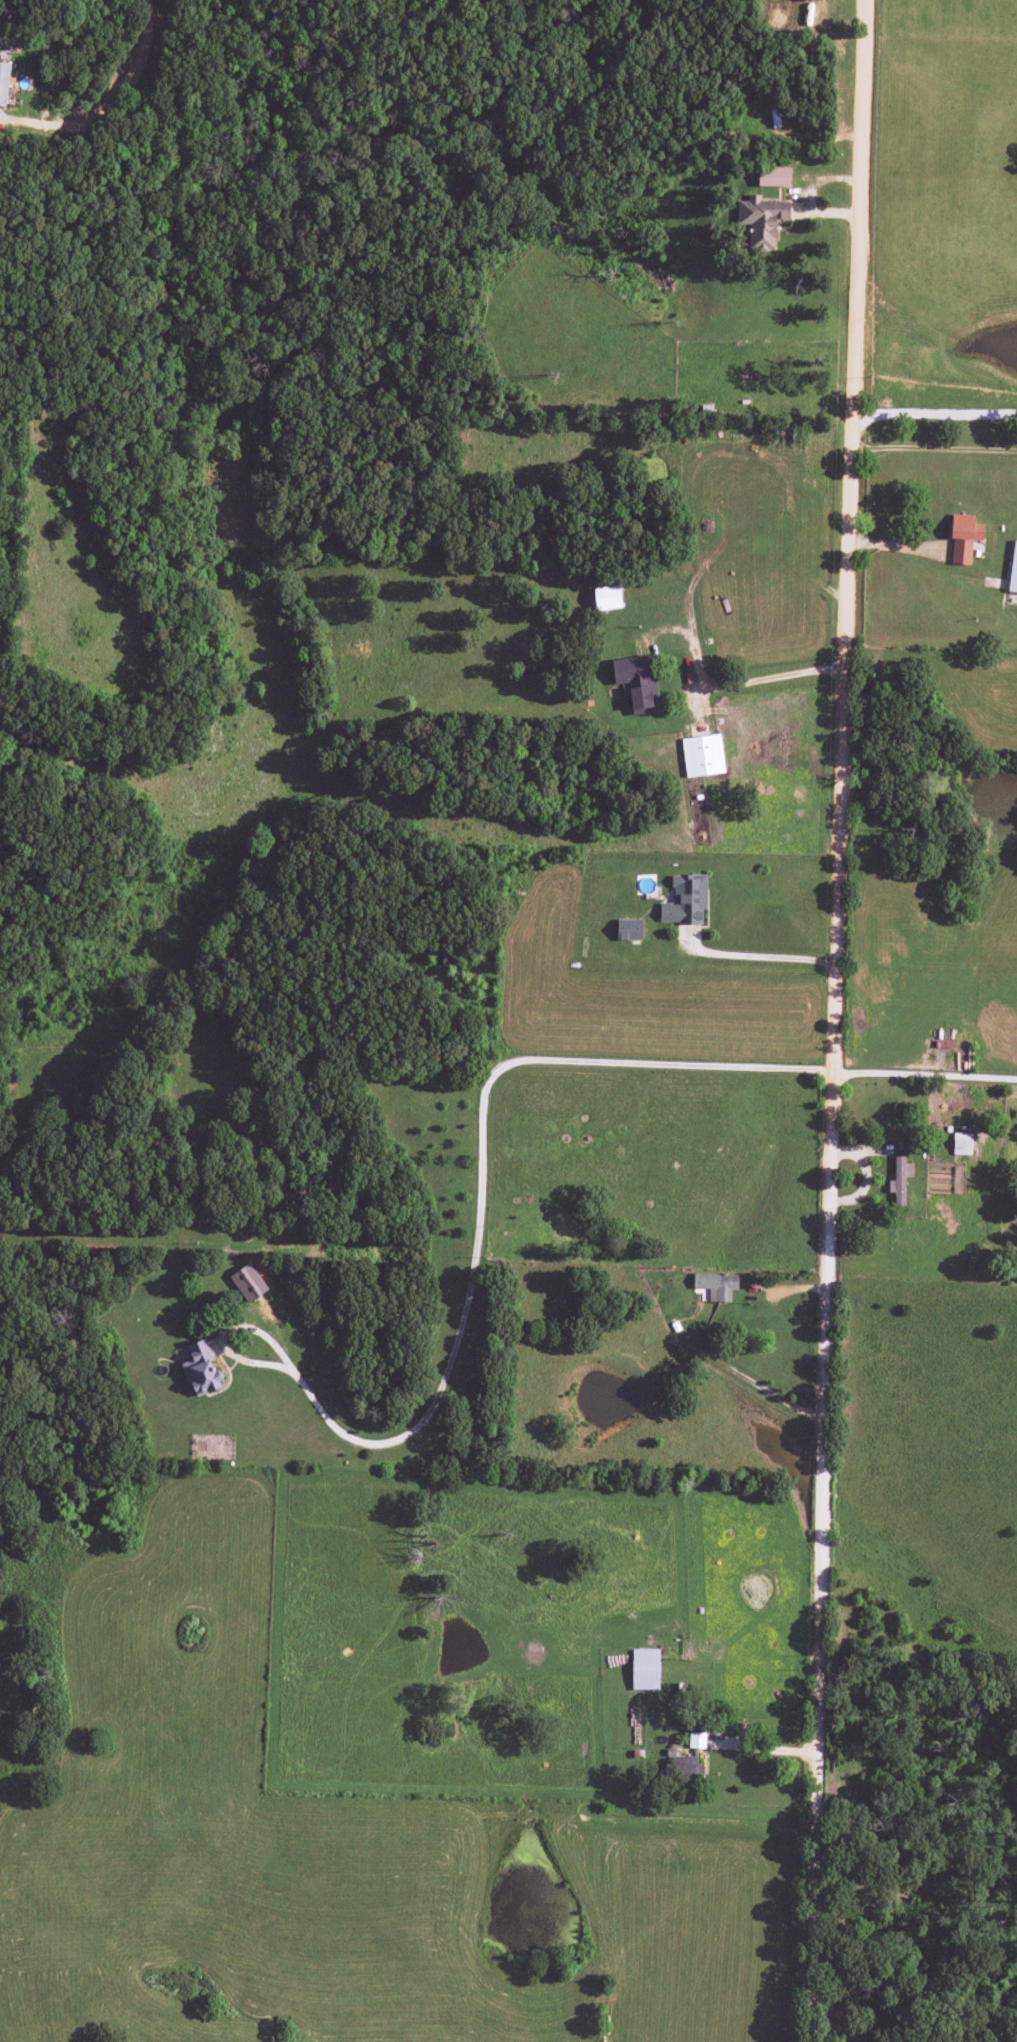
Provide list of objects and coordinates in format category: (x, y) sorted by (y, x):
building: (810, 8)
building: (4, 82)
road: (111, 102)
building: (773, 176)
building: (761, 220)
building: (963, 537)
building: (1013, 569)
building: (607, 598)
road: (775, 676)
building: (637, 682)
building: (702, 755)
building: (685, 900)
building: (628, 929)
road: (769, 956)
road: (832, 1020)
road: (924, 1074)
building: (961, 1143)
building: (899, 1179)
road: (473, 1248)
building: (248, 1283)
building: (716, 1285)
building: (201, 1369)
road: (667, 1550)
building: (645, 1669)
building: (696, 1740)
building: (686, 1768)

